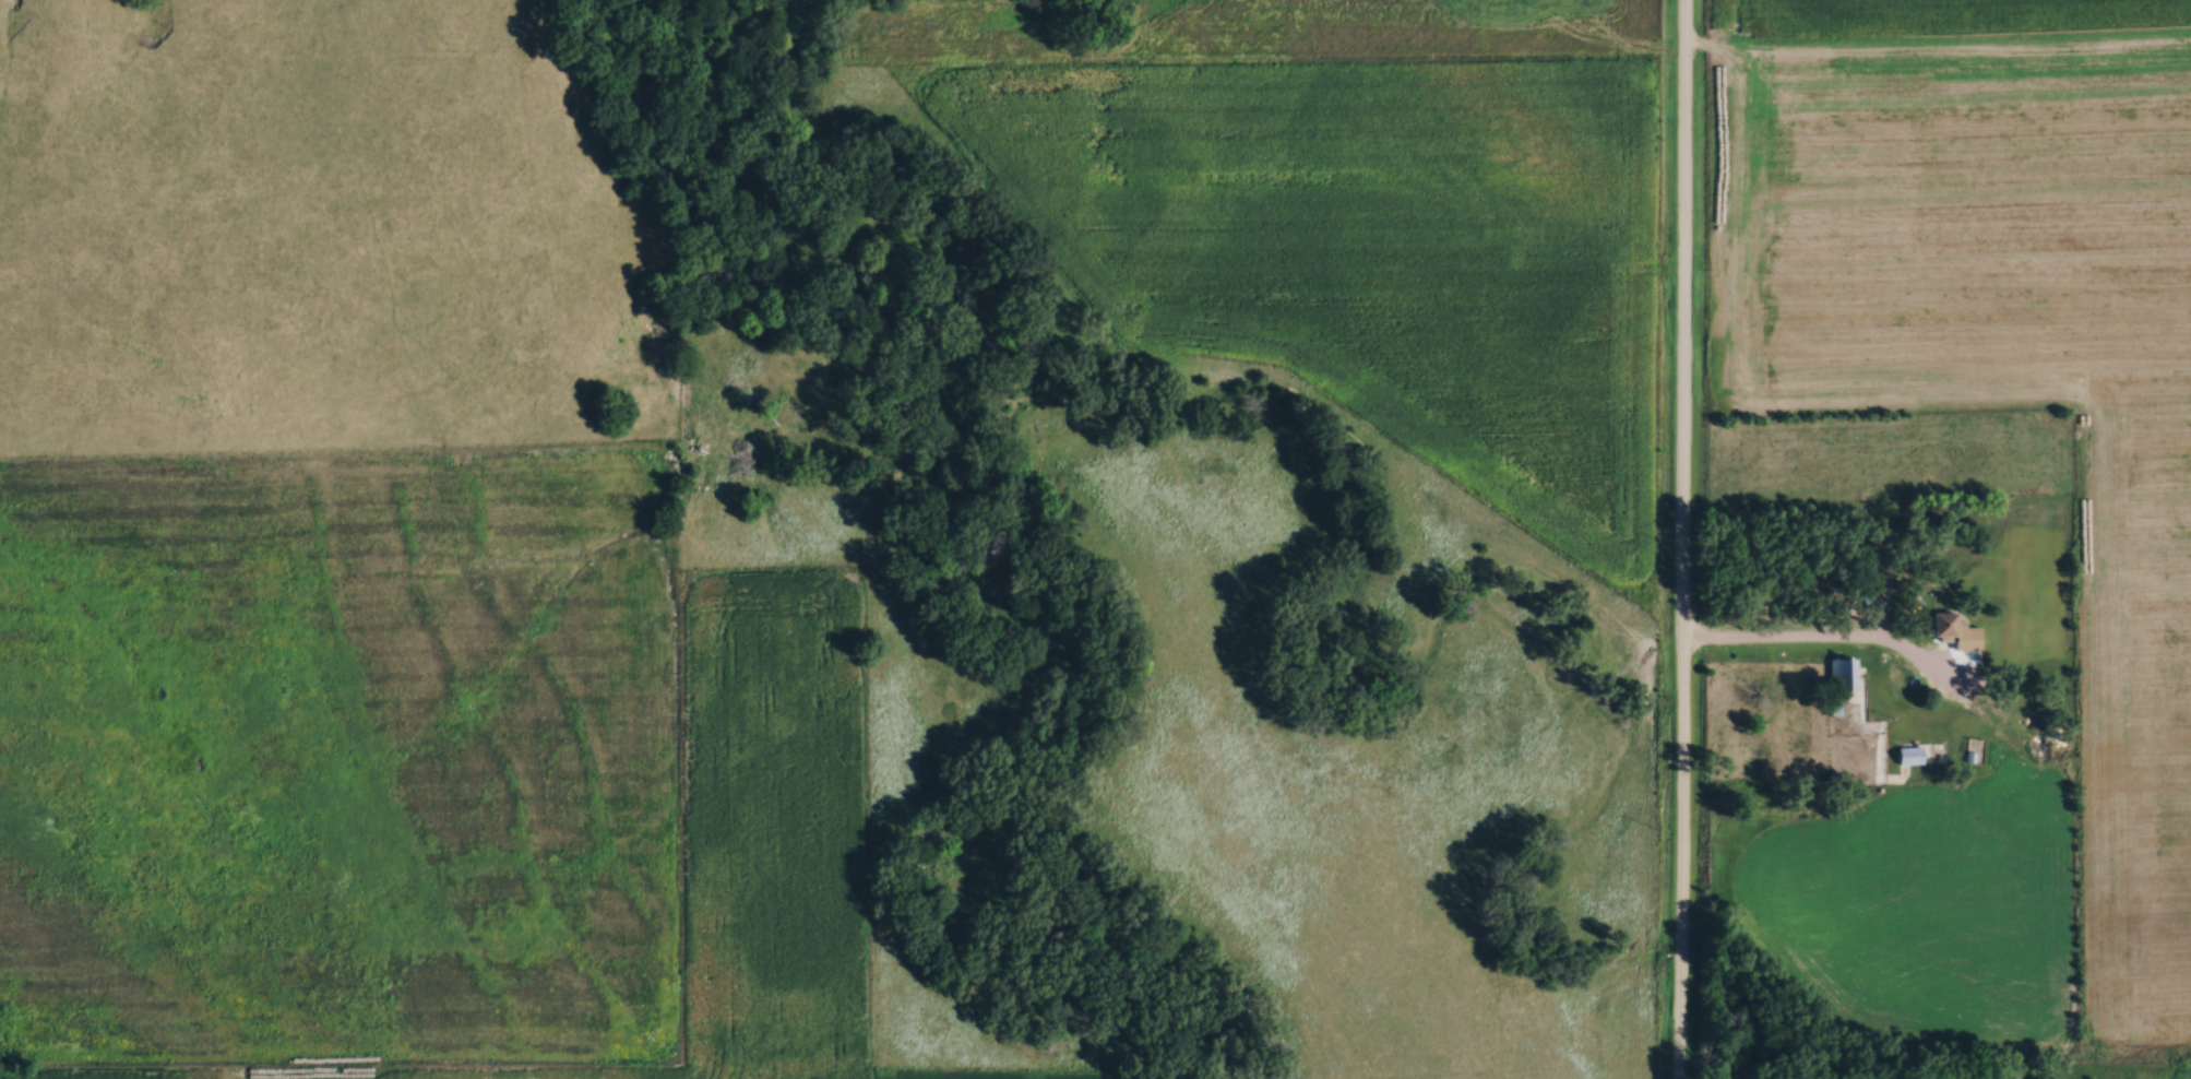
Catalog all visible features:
road: (1687, 539)
building: (1867, 573)
building: (1942, 625)
road: (1824, 640)
building: (1841, 679)
building: (1910, 755)

